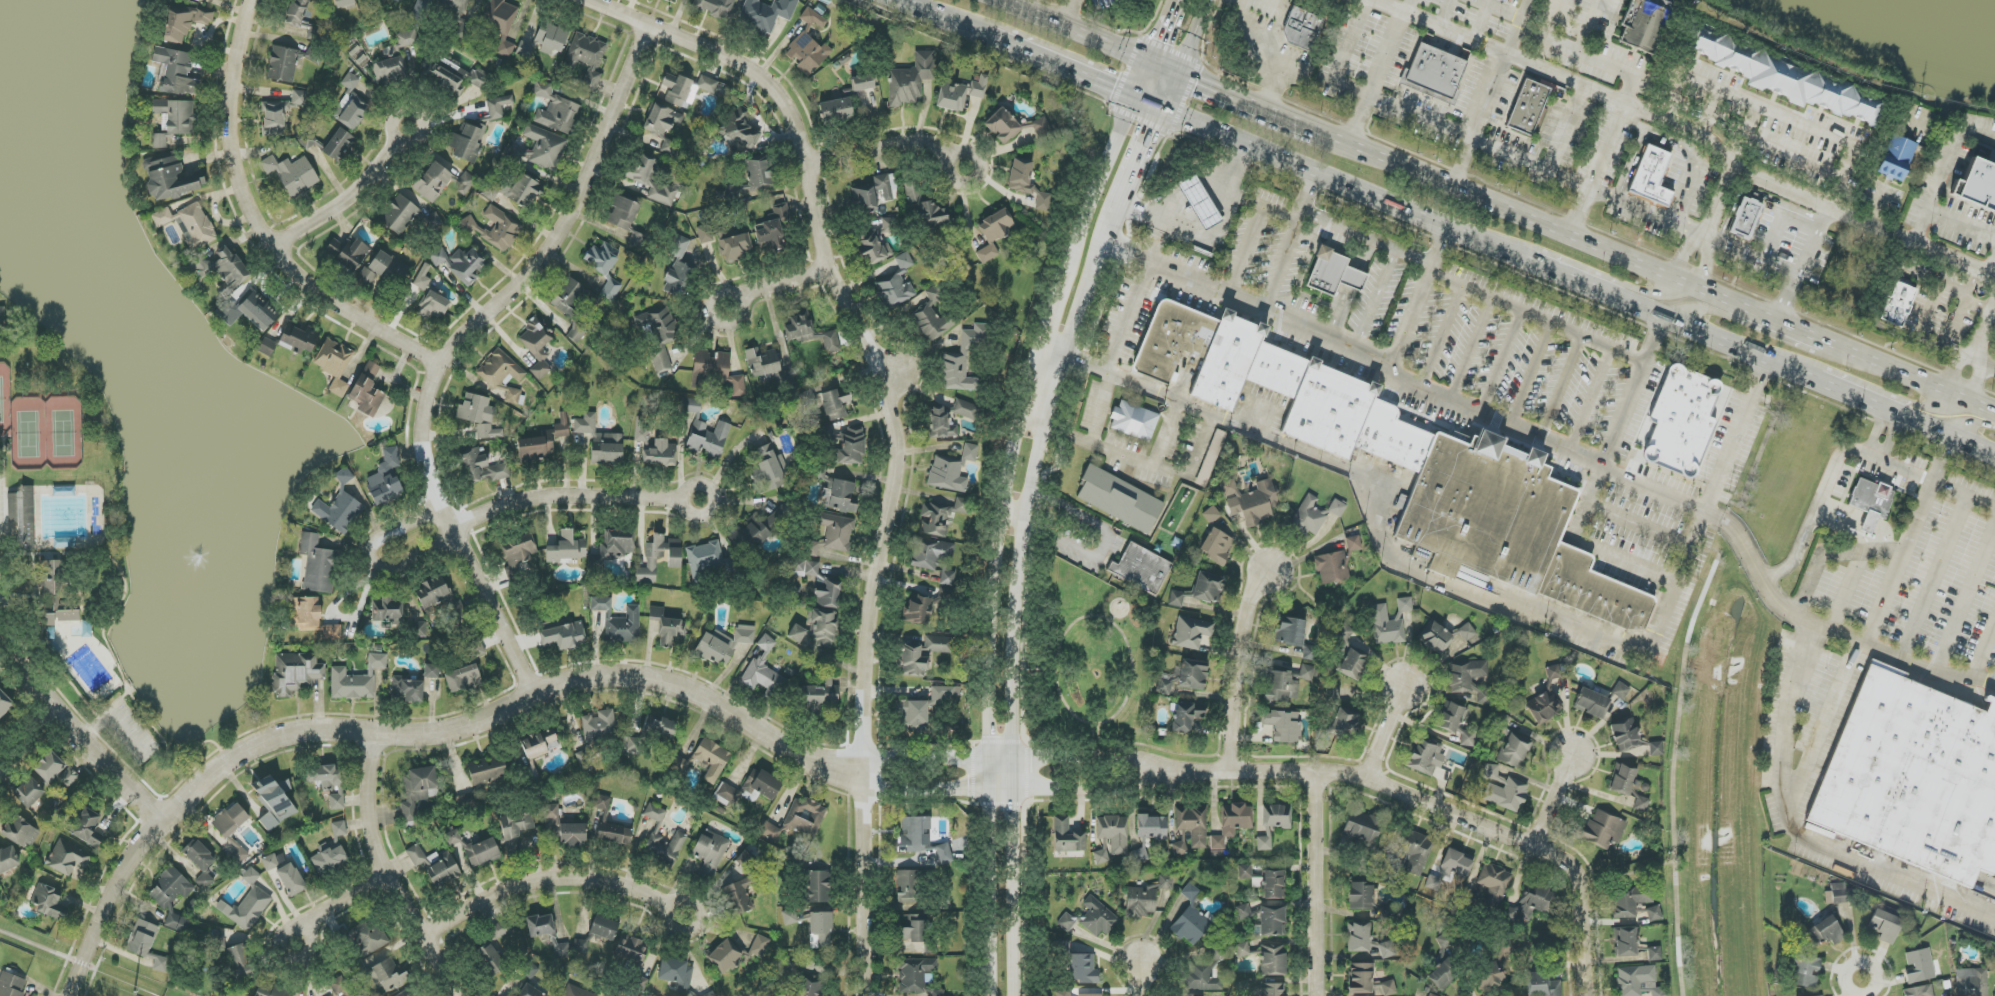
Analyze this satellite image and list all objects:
building: (189, 0)
building: (397, 1)
building: (344, 3)
building: (456, 7)
building: (715, 7)
road: (1500, 8)
road: (1067, 11)
building: (296, 13)
building: (767, 13)
building: (813, 18)
road: (946, 20)
building: (501, 22)
building: (183, 23)
building: (1644, 23)
road: (1516, 27)
road: (1080, 29)
building: (1302, 29)
road: (1193, 35)
building: (407, 38)
traffic signals: (1159, 38)
road: (1248, 39)
building: (545, 40)
road: (1154, 50)
building: (391, 52)
building: (807, 53)
building: (586, 58)
road: (1594, 59)
road: (1165, 64)
road: (1339, 66)
building: (389, 68)
road: (1064, 70)
building: (175, 72)
building: (1435, 73)
building: (443, 74)
road: (1374, 76)
building: (1784, 78)
building: (474, 79)
building: (911, 79)
traffic signals: (1199, 79)
road: (1680, 79)
building: (350, 81)
building: (862, 82)
building: (707, 84)
road: (1275, 85)
road: (1350, 89)
building: (678, 90)
traffic signals: (1111, 90)
building: (960, 93)
road: (1244, 96)
building: (498, 106)
road: (1148, 106)
building: (1527, 107)
building: (555, 110)
building: (835, 110)
building: (280, 113)
building: (352, 114)
building: (173, 120)
building: (662, 120)
road: (1480, 120)
road: (1689, 125)
building: (1014, 126)
building: (738, 129)
road: (1566, 129)
traffic signals: (1154, 132)
road: (1836, 139)
road: (413, 142)
building: (468, 142)
building: (339, 145)
building: (544, 148)
road: (881, 148)
road: (1146, 149)
road: (1690, 153)
building: (1896, 158)
road: (1872, 159)
road: (1599, 167)
road: (950, 168)
road: (1945, 172)
building: (292, 174)
building: (759, 175)
building: (1651, 177)
building: (170, 178)
building: (433, 181)
building: (652, 181)
building: (465, 183)
building: (1027, 183)
building: (1979, 185)
road: (1347, 186)
road: (1585, 187)
building: (524, 191)
building: (874, 192)
road: (344, 201)
building: (1199, 202)
building: (926, 208)
building: (399, 214)
building: (623, 215)
building: (1745, 218)
road: (1546, 220)
building: (434, 221)
road: (258, 223)
building: (189, 225)
building: (889, 225)
road: (1711, 225)
building: (494, 228)
building: (773, 229)
building: (993, 233)
building: (705, 234)
road: (1296, 237)
road: (1214, 240)
building: (677, 246)
building: (736, 247)
building: (872, 247)
building: (347, 252)
building: (904, 261)
building: (461, 264)
road: (1807, 265)
road: (1548, 267)
building: (219, 268)
building: (384, 269)
building: (1333, 273)
building: (422, 277)
building: (678, 278)
road: (1475, 279)
road: (784, 283)
road: (1626, 286)
road: (733, 291)
building: (895, 291)
road: (1420, 295)
building: (568, 296)
road: (1961, 298)
building: (1898, 304)
building: (433, 305)
building: (228, 310)
building: (259, 311)
road: (1127, 316)
road: (1724, 316)
building: (932, 317)
building: (1, 319)
road: (853, 324)
road: (1689, 326)
road: (1984, 326)
road: (1805, 328)
building: (809, 332)
building: (576, 334)
building: (659, 335)
road: (1944, 335)
road: (452, 344)
building: (537, 346)
building: (267, 347)
road: (1985, 358)
building: (963, 360)
building: (334, 364)
building: (764, 365)
road: (1956, 366)
building: (715, 371)
road: (1911, 372)
building: (502, 374)
road: (1977, 375)
road: (1841, 388)
road: (1639, 390)
building: (367, 391)
road: (1464, 397)
building: (693, 405)
building: (835, 405)
road: (1920, 406)
building: (966, 409)
building: (479, 416)
park: (39, 417)
building: (1682, 420)
building: (1134, 421)
road: (1970, 421)
building: (940, 423)
road: (1019, 426)
road: (1930, 427)
building: (640, 429)
road: (1069, 435)
building: (708, 439)
building: (600, 441)
building: (543, 442)
building: (849, 446)
building: (660, 454)
road: (1122, 454)
building: (1211, 458)
road: (1195, 459)
building: (1910, 460)
building: (1409, 465)
building: (481, 468)
building: (767, 468)
building: (951, 470)
building: (386, 478)
road: (686, 490)
building: (838, 494)
road: (1964, 494)
road: (564, 496)
building: (1119, 499)
building: (1251, 501)
building: (1869, 503)
building: (1337, 508)
building: (339, 510)
building: (1211, 514)
building: (23, 516)
building: (940, 516)
building: (1308, 517)
road: (1642, 526)
building: (761, 529)
building: (834, 534)
road: (1106, 543)
building: (1353, 543)
road: (1590, 544)
building: (1216, 546)
building: (567, 548)
building: (613, 548)
road: (1893, 552)
building: (518, 553)
fountain: (201, 556)
building: (660, 557)
building: (704, 558)
building: (934, 559)
road: (372, 560)
building: (317, 564)
building: (1332, 567)
building: (805, 568)
building: (1141, 568)
road: (1935, 575)
building: (1208, 587)
road: (1481, 587)
building: (55, 592)
building: (435, 594)
building: (829, 595)
road: (1884, 596)
road: (1967, 596)
building: (1176, 599)
building: (1404, 604)
road: (1023, 605)
building: (917, 610)
building: (387, 611)
building: (308, 613)
building: (619, 621)
road: (1109, 621)
building: (1386, 626)
building: (667, 627)
building: (417, 629)
road: (1784, 629)
building: (817, 630)
building: (1290, 631)
building: (332, 632)
building: (1191, 632)
building: (1466, 632)
building: (563, 636)
building: (1435, 638)
building: (723, 644)
building: (937, 644)
building: (474, 649)
road: (1984, 651)
building: (1311, 653)
building: (1350, 655)
street lamp: (1039, 659)
building: (913, 660)
park: (1089, 660)
road: (1038, 662)
road: (1234, 663)
road: (1852, 666)
road: (1033, 667)
building: (431, 671)
building: (765, 672)
building: (296, 673)
building: (1306, 673)
building: (1184, 677)
building: (463, 679)
building: (357, 680)
building: (1470, 680)
building: (1282, 687)
building: (1550, 687)
building: (407, 690)
building: (1620, 691)
building: (946, 694)
building: (820, 695)
building: (1591, 703)
building: (4, 704)
building: (1187, 716)
building: (1451, 717)
road: (1041, 721)
building: (1343, 721)
road: (24, 725)
building: (599, 725)
building: (1283, 726)
building: (660, 727)
road: (76, 730)
road: (1388, 735)
building: (1625, 735)
road: (417, 736)
building: (1467, 737)
street lamp: (1104, 739)
building: (633, 745)
road: (1092, 746)
building: (1656, 749)
building: (1515, 750)
building: (1426, 756)
road: (926, 758)
building: (712, 759)
road: (1673, 759)
building: (585, 760)
building: (49, 767)
building: (487, 770)
road: (869, 771)
road: (983, 771)
road: (1300, 772)
building: (68, 777)
building: (1913, 779)
building: (1624, 780)
building: (328, 782)
building: (751, 787)
road: (925, 787)
building: (1504, 790)
building: (418, 791)
building: (29, 793)
building: (274, 801)
road: (1554, 802)
building: (1641, 804)
building: (655, 812)
building: (1276, 816)
building: (230, 820)
building: (1232, 823)
building: (610, 825)
building: (1193, 825)
building: (1152, 827)
building: (1362, 827)
building: (88, 828)
building: (565, 828)
building: (339, 829)
building: (515, 829)
building: (1603, 829)
building: (20, 832)
building: (1114, 833)
building: (915, 834)
building: (1067, 836)
building: (452, 838)
building: (1264, 841)
building: (666, 847)
building: (1179, 848)
building: (710, 850)
building: (482, 852)
building: (1416, 852)
building: (944, 854)
building: (1139, 855)
building: (416, 856)
building: (1101, 857)
building: (67, 858)
building: (8, 859)
building: (329, 860)
building: (269, 861)
building: (746, 861)
building: (200, 862)
road: (1892, 867)
building: (443, 869)
building: (1451, 869)
building: (1245, 871)
road: (386, 875)
road: (551, 875)
building: (251, 876)
building: (291, 880)
road: (992, 882)
road: (860, 883)
building: (1494, 883)
building: (1272, 884)
road: (1318, 885)
building: (819, 886)
building: (907, 886)
building: (170, 888)
building: (1836, 894)
building: (0, 896)
building: (1360, 896)
building: (739, 897)
road: (332, 898)
building: (1146, 898)
building: (1629, 900)
building: (49, 902)
building: (1533, 903)
building: (250, 909)
building: (1654, 913)
building: (790, 917)
building: (1098, 917)
building: (1192, 918)
building: (1266, 918)
building: (1066, 922)
building: (177, 923)
building: (540, 925)
building: (1885, 926)
building: (604, 928)
building: (913, 928)
building: (499, 930)
building: (821, 930)
building: (1823, 930)
building: (367, 937)
building: (141, 938)
road: (1583, 940)
building: (217, 941)
building: (1367, 941)
building: (1625, 941)
building: (581, 946)
road: (41, 948)
building: (1242, 949)
building: (562, 950)
building: (631, 950)
building: (737, 953)
building: (1654, 954)
building: (491, 958)
building: (1273, 960)
building: (241, 962)
building: (1919, 966)
building: (529, 969)
building: (1083, 969)
building: (1493, 970)
building: (1804, 970)
building: (676, 973)
building: (915, 974)
building: (1444, 974)
building: (386, 975)
building: (1201, 975)
building: (1360, 978)
road: (1138, 979)
building: (1638, 981)
building: (1971, 982)
building: (11, 985)
building: (1541, 985)
road: (1862, 986)
building: (807, 987)
building: (341, 988)
building: (1389, 988)
building: (1272, 989)
building: (271, 990)
building: (530, 991)
building: (577, 991)
building: (1919, 991)
building: (405, 993)
building: (937, 993)
building: (1063, 993)
building: (709, 994)
building: (1994, 994)
building: (1090, 995)
building: (1431, 995)

